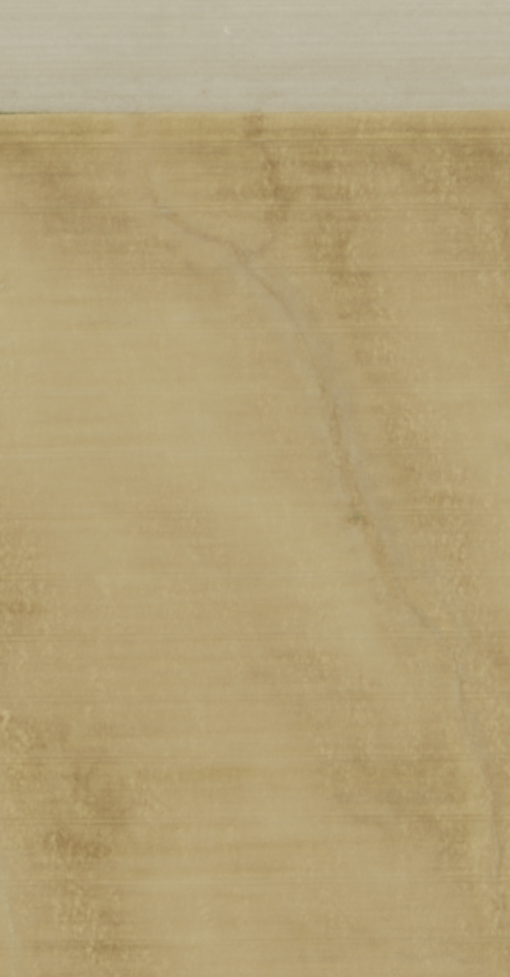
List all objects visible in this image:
crop: (255, 488)

